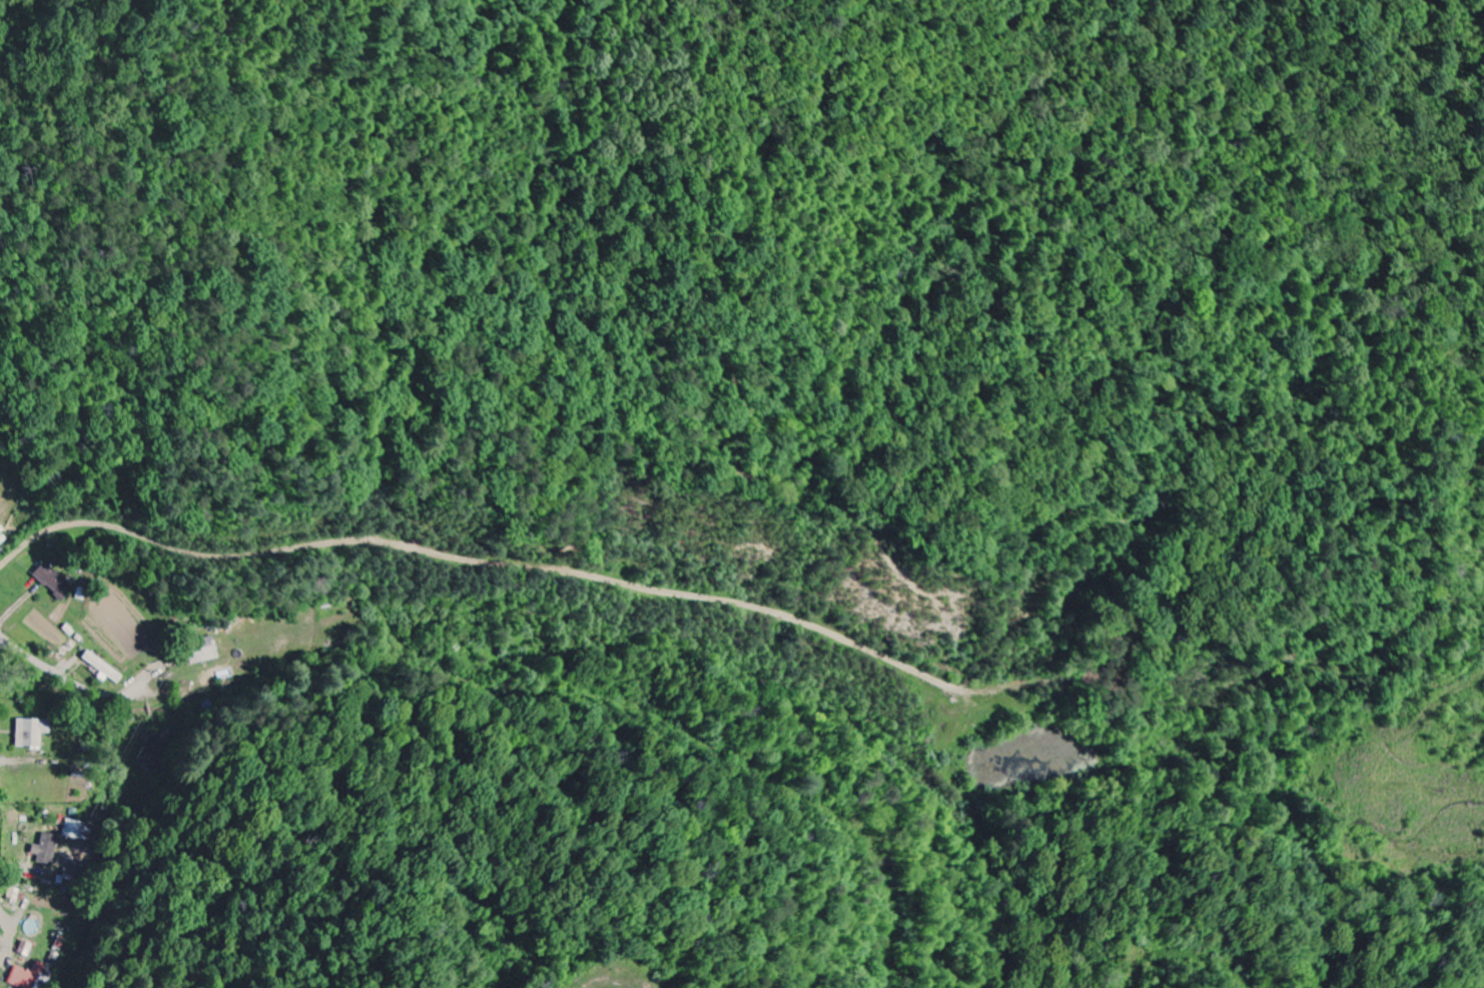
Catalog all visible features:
building: (54, 583)
building: (205, 652)
building: (103, 671)
road: (70, 680)
building: (31, 733)
building: (42, 898)
building: (25, 949)

